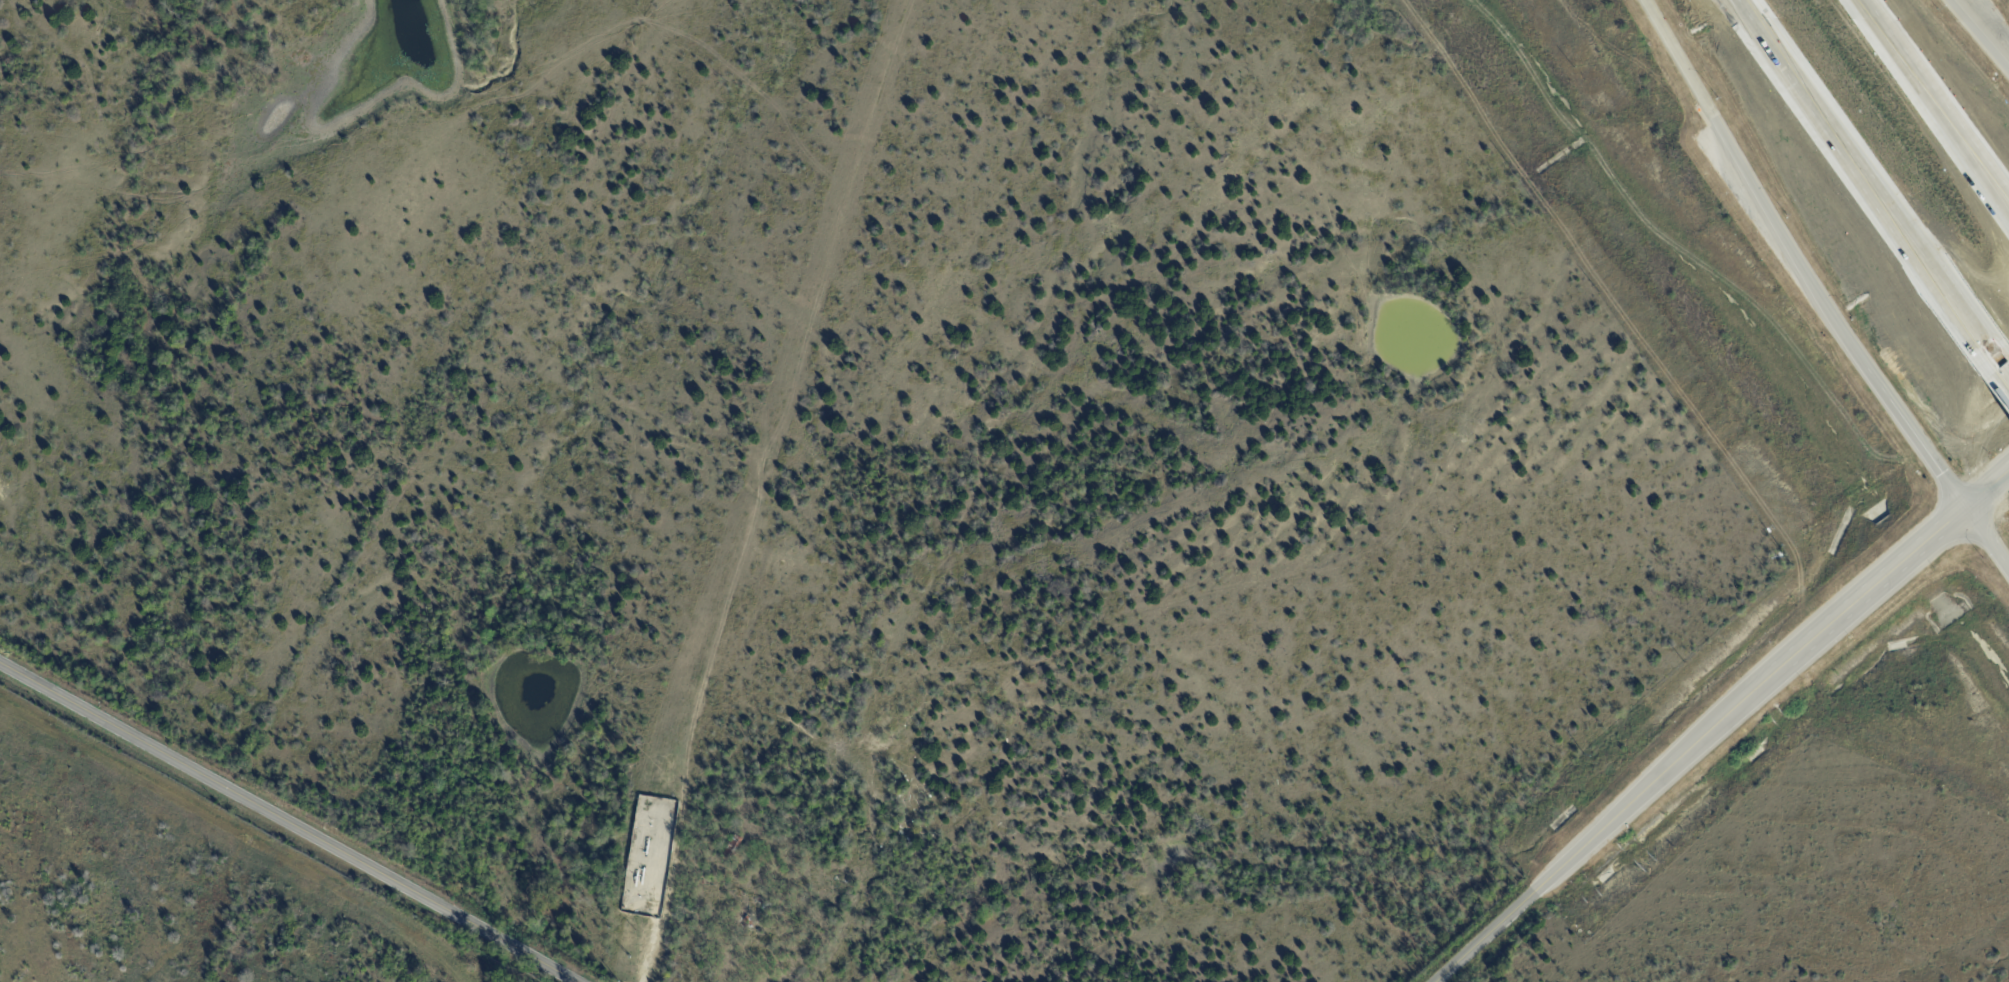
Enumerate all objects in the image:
road: (1980, 32)
road: (1938, 96)
road: (1862, 174)
road: (1796, 261)
road: (1998, 362)
road: (1987, 488)
road: (1987, 538)
road: (1873, 588)
road: (288, 821)
road: (1610, 823)
building: (732, 847)

